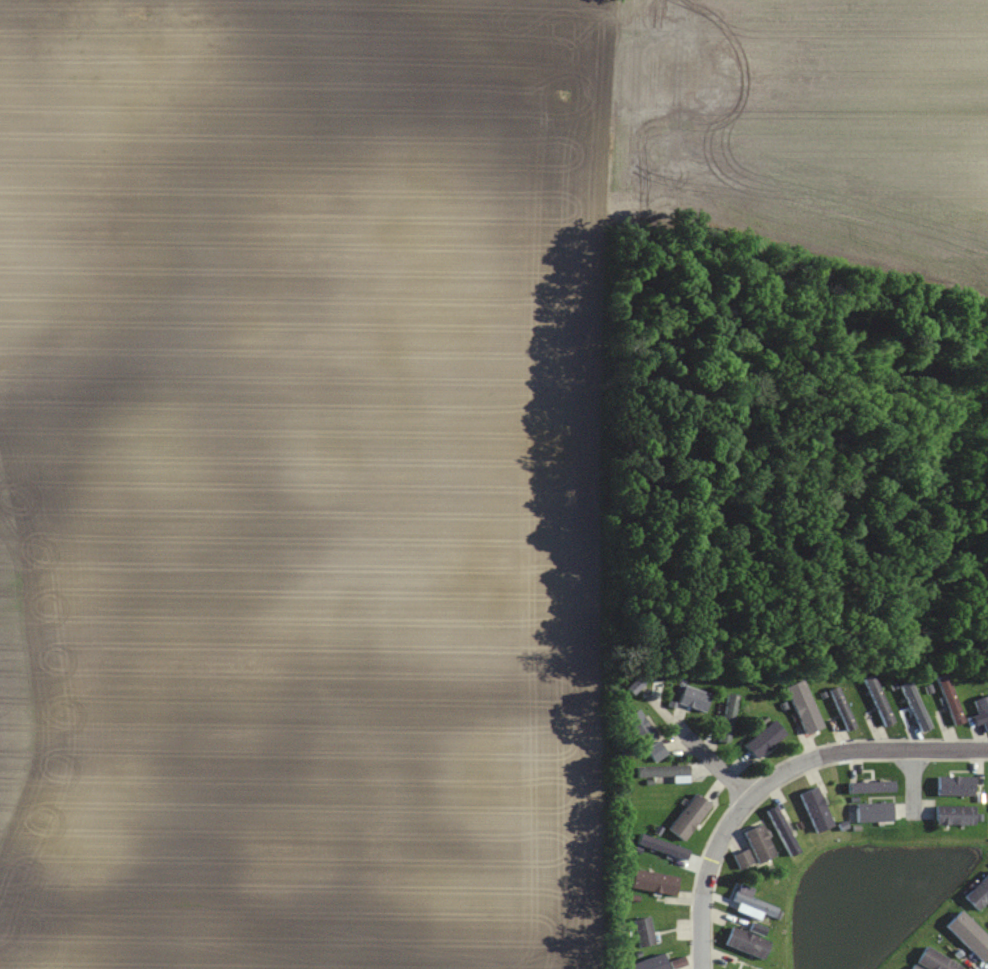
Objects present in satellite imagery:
building: (694, 699)
building: (950, 699)
building: (879, 701)
building: (916, 707)
building: (804, 708)
building: (842, 710)
building: (983, 711)
building: (728, 719)
building: (640, 728)
building: (764, 741)
building: (656, 752)
road: (717, 768)
building: (663, 772)
road: (776, 777)
road: (913, 784)
building: (955, 787)
building: (816, 810)
building: (955, 816)
building: (689, 817)
building: (783, 832)
building: (759, 845)
building: (743, 860)
building: (654, 882)
building: (979, 894)
building: (644, 932)
building: (970, 935)
building: (747, 943)
building: (935, 960)
building: (659, 963)

